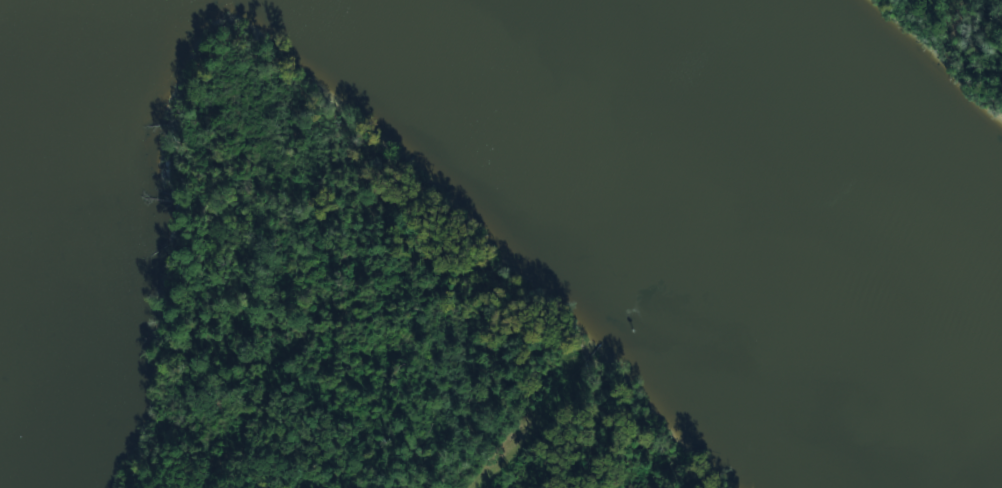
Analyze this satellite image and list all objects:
river: (800, 169)

